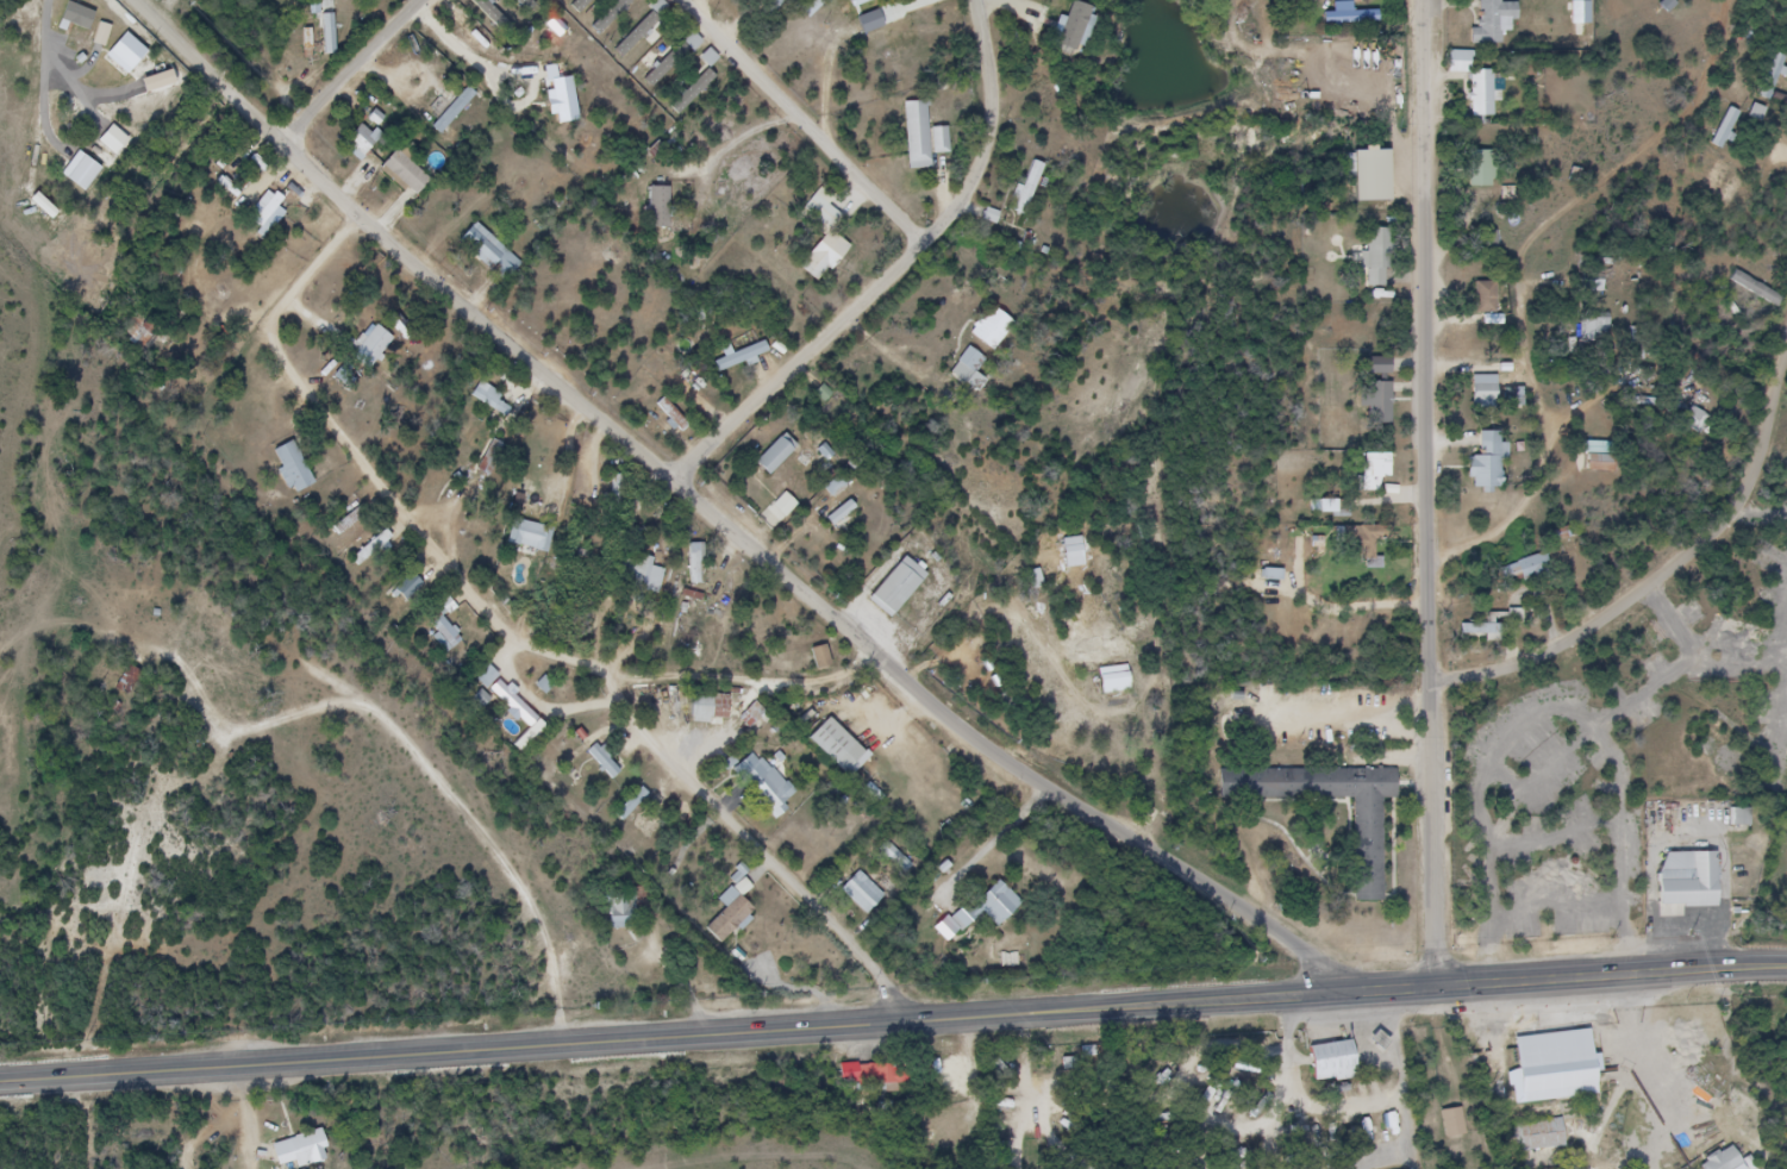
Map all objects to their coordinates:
building: (780, 1)
building: (525, 5)
building: (1336, 8)
building: (612, 14)
building: (76, 15)
building: (1581, 15)
building: (493, 17)
building: (641, 27)
building: (1502, 27)
building: (104, 36)
building: (126, 54)
building: (674, 57)
building: (417, 68)
road: (349, 71)
building: (1773, 76)
building: (155, 82)
building: (694, 92)
building: (1493, 99)
road: (819, 118)
building: (1725, 129)
building: (923, 137)
building: (112, 139)
building: (79, 171)
building: (406, 173)
building: (1491, 173)
building: (1382, 186)
building: (1029, 188)
building: (658, 207)
building: (271, 211)
building: (824, 237)
building: (492, 252)
building: (1387, 264)
road: (1531, 265)
road: (900, 271)
building: (1756, 289)
building: (1486, 298)
building: (1497, 304)
building: (1594, 326)
building: (991, 329)
building: (145, 339)
building: (375, 348)
building: (741, 357)
building: (968, 368)
building: (1391, 376)
building: (701, 387)
building: (483, 393)
building: (1499, 395)
building: (1377, 405)
building: (502, 410)
building: (1391, 414)
building: (1698, 421)
building: (776, 455)
building: (293, 467)
building: (1377, 467)
building: (1499, 475)
building: (1388, 485)
building: (618, 487)
road: (1433, 493)
building: (1339, 507)
building: (1338, 518)
building: (350, 519)
building: (836, 520)
road: (733, 530)
building: (531, 537)
building: (1356, 538)
building: (1304, 550)
building: (1376, 552)
building: (1319, 555)
building: (695, 563)
building: (1530, 569)
building: (1271, 575)
road: (1657, 577)
building: (1282, 583)
building: (898, 586)
building: (444, 630)
building: (1507, 633)
road: (535, 639)
building: (820, 657)
building: (130, 680)
building: (508, 698)
building: (710, 707)
building: (835, 746)
building: (605, 761)
building: (764, 783)
building: (632, 805)
building: (1739, 818)
building: (1382, 856)
building: (895, 858)
building: (1689, 880)
building: (744, 888)
building: (863, 893)
building: (988, 906)
building: (1008, 912)
building: (633, 914)
building: (726, 918)
building: (739, 924)
building: (962, 936)
road: (1582, 975)
road: (1093, 1012)
road: (1242, 1044)
road: (404, 1058)
building: (1551, 1058)
road: (1295, 1063)
road: (1038, 1064)
building: (1344, 1065)
building: (882, 1079)
road: (1073, 1082)
building: (1454, 1123)
road: (1231, 1133)
building: (1541, 1136)
road: (1063, 1137)
road: (1032, 1139)
road: (1281, 1146)
building: (1643, 1146)
building: (313, 1152)
building: (1720, 1161)

